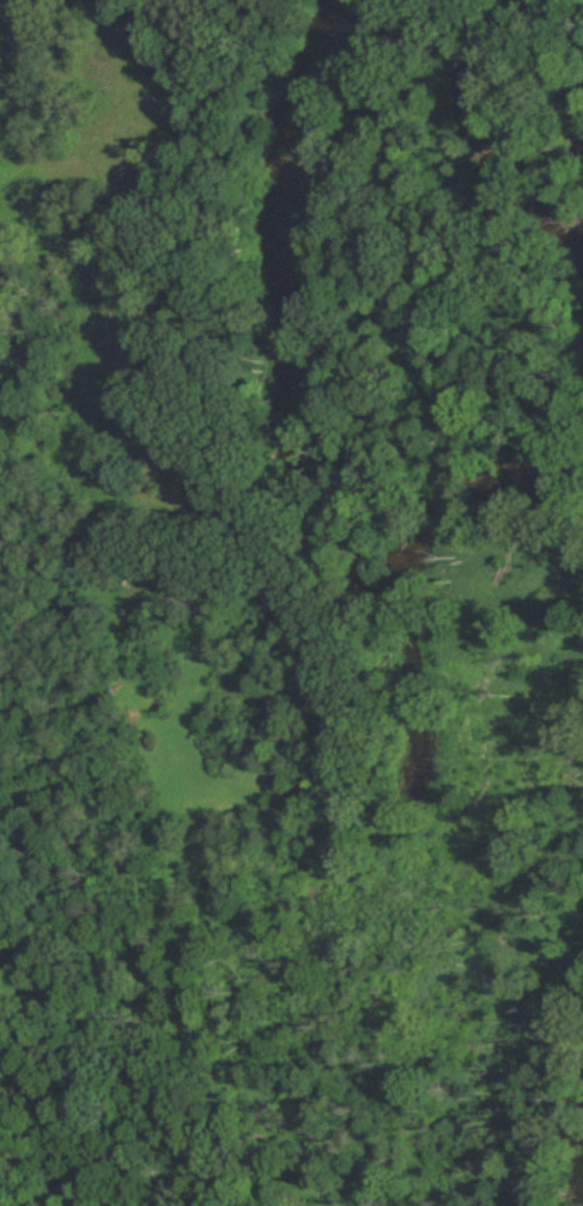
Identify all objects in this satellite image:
river: (290, 363)
building: (146, 690)
road: (65, 1094)

